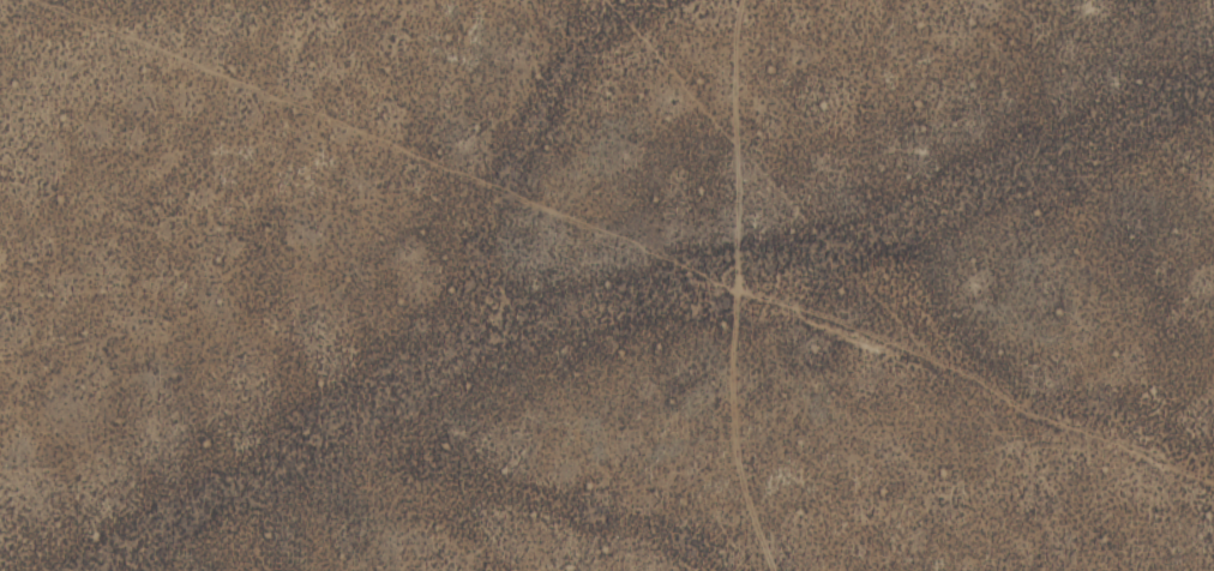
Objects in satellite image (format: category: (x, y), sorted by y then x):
road: (1063, 181)
road: (629, 242)

